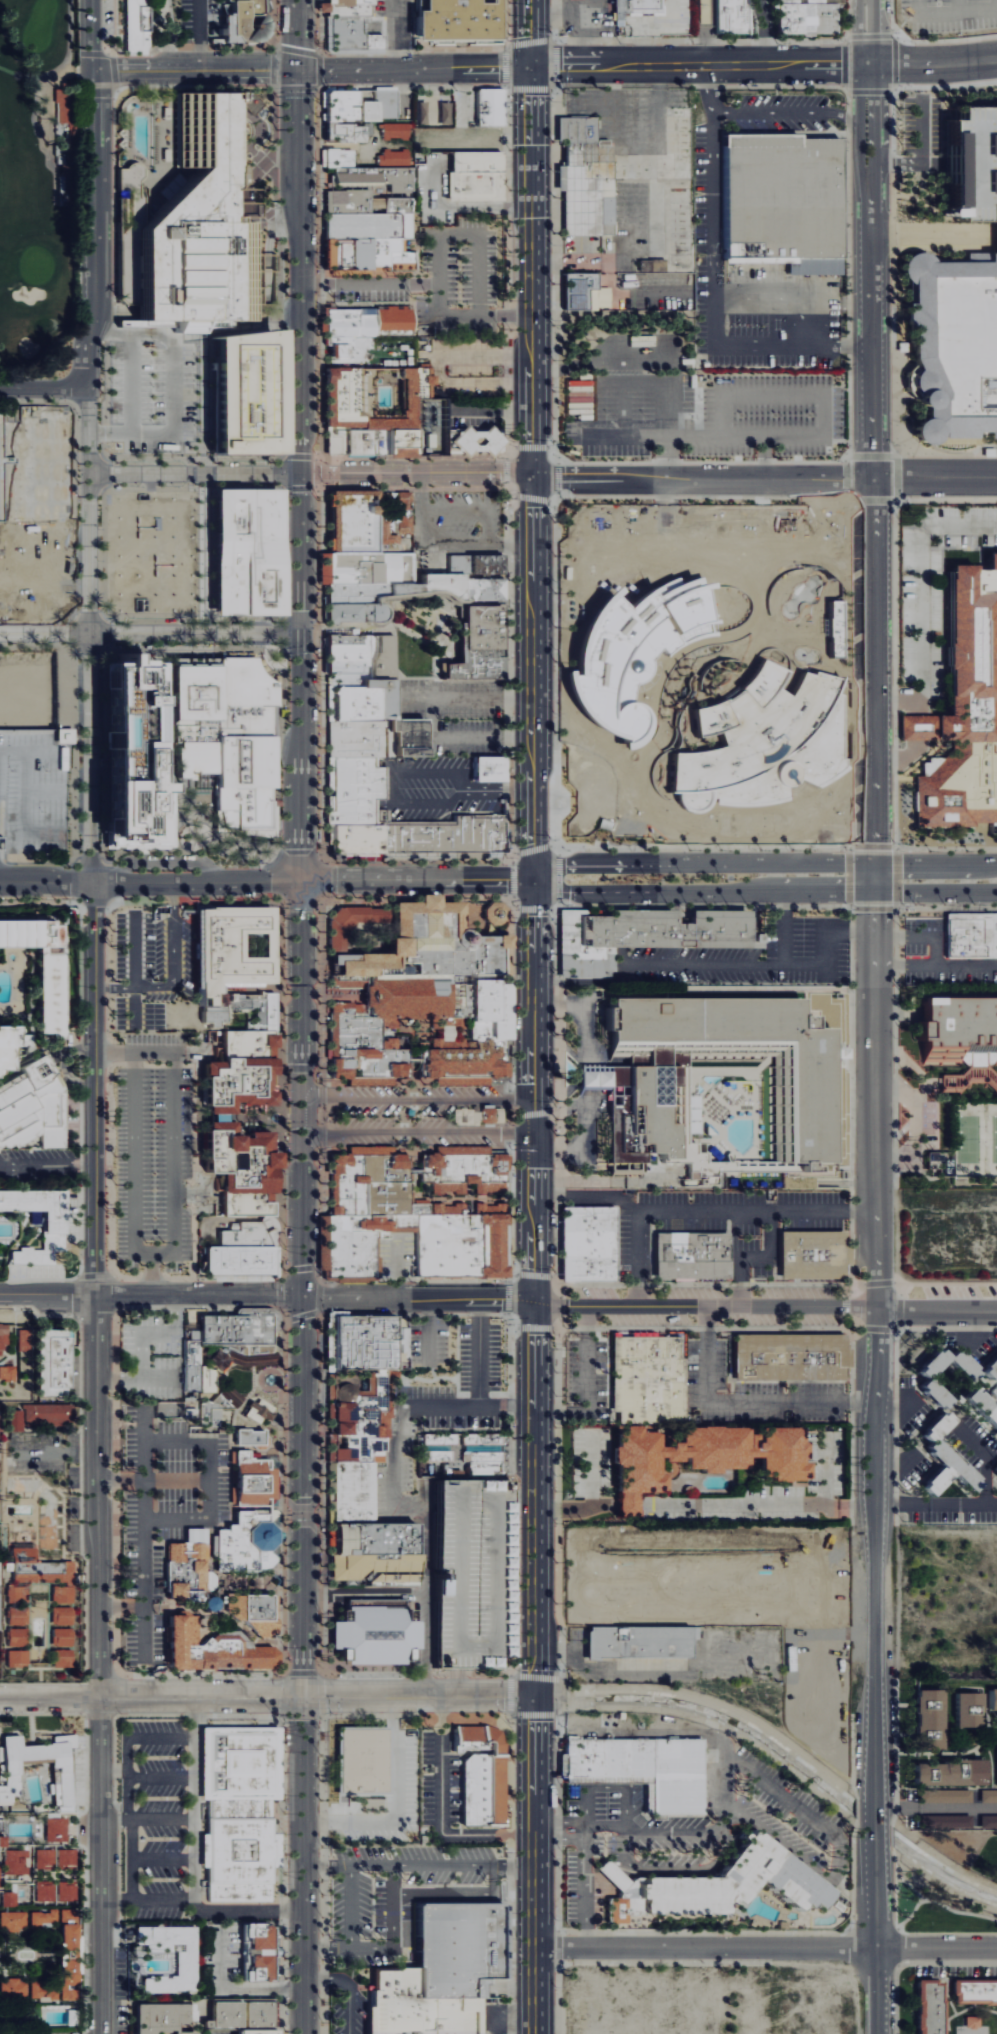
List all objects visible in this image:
road: (996, 5)
road: (959, 7)
building: (638, 8)
building: (347, 9)
road: (953, 15)
road: (551, 16)
parking lot: (948, 16)
building: (731, 18)
building: (804, 18)
building: (454, 20)
parking lot: (202, 21)
building: (243, 21)
building: (135, 26)
road: (526, 32)
road: (576, 32)
road: (700, 32)
road: (763, 32)
road: (868, 32)
road: (398, 34)
road: (199, 35)
building: (350, 38)
road: (932, 63)
traffic signals: (529, 65)
road: (698, 65)
road: (414, 67)
road: (196, 70)
traffic signals: (299, 70)
road: (116, 85)
road: (868, 93)
building: (243, 103)
building: (358, 106)
road: (941, 107)
building: (488, 108)
road: (791, 111)
building: (397, 130)
building: (344, 131)
parking lot: (939, 144)
building: (974, 152)
building: (395, 157)
building: (328, 159)
building: (133, 176)
building: (474, 177)
park: (37, 178)
building: (375, 180)
building: (994, 180)
road: (247, 191)
road: (94, 202)
building: (780, 202)
building: (361, 203)
road: (933, 205)
road: (977, 208)
building: (367, 227)
building: (196, 229)
building: (366, 257)
road: (438, 260)
road: (530, 272)
parking lot: (458, 279)
road: (714, 281)
road: (369, 284)
building: (588, 292)
road: (870, 300)
building: (367, 325)
road: (238, 328)
building: (954, 343)
building: (350, 353)
road: (133, 384)
road: (175, 384)
road: (20, 387)
building: (257, 393)
parking lot: (161, 394)
parking lot: (706, 414)
power substation: (428, 426)
road: (794, 437)
road: (301, 439)
building: (483, 440)
building: (369, 442)
road: (665, 459)
traffic signals: (301, 473)
road: (311, 473)
road: (702, 479)
road: (934, 479)
traffic signals: (532, 480)
road: (470, 508)
building: (351, 522)
building: (380, 523)
road: (445, 540)
building: (253, 552)
building: (846, 553)
building: (364, 567)
road: (921, 588)
building: (399, 595)
road: (46, 637)
road: (197, 637)
traffic signals: (301, 637)
building: (474, 645)
building: (359, 654)
road: (872, 671)
road: (532, 679)
road: (469, 696)
building: (357, 697)
road: (899, 701)
building: (964, 714)
building: (66, 733)
road: (486, 735)
building: (232, 736)
building: (374, 738)
building: (142, 760)
road: (901, 762)
building: (486, 769)
road: (179, 788)
parking lot: (33, 794)
building: (349, 805)
road: (762, 863)
traffic signals: (873, 864)
road: (873, 877)
traffic signals: (532, 878)
road: (416, 879)
traffic signals: (301, 880)
road: (150, 881)
road: (701, 891)
traffic signals: (874, 891)
road: (935, 891)
building: (493, 913)
road: (919, 936)
building: (640, 937)
building: (971, 937)
building: (334, 940)
building: (428, 945)
road: (827, 946)
building: (229, 949)
road: (137, 953)
road: (743, 963)
road: (935, 965)
building: (45, 967)
road: (175, 973)
road: (587, 1009)
building: (211, 1015)
building: (362, 1035)
building: (959, 1039)
building: (11, 1047)
road: (586, 1081)
building: (631, 1081)
road: (417, 1099)
building: (35, 1107)
building: (476, 1116)
building: (219, 1125)
road: (417, 1132)
road: (920, 1132)
park: (974, 1141)
road: (172, 1143)
road: (583, 1145)
parking lot: (39, 1168)
road: (48, 1168)
building: (462, 1171)
road: (97, 1184)
road: (588, 1195)
road: (664, 1210)
road: (751, 1210)
road: (766, 1214)
building: (399, 1221)
building: (52, 1231)
building: (248, 1233)
building: (587, 1243)
building: (812, 1254)
building: (691, 1255)
building: (240, 1260)
road: (395, 1265)
road: (151, 1296)
traffic signals: (302, 1296)
road: (900, 1306)
road: (649, 1307)
road: (429, 1329)
road: (948, 1329)
building: (233, 1330)
building: (4, 1336)
building: (25, 1340)
building: (357, 1342)
building: (240, 1355)
building: (788, 1356)
building: (54, 1362)
building: (190, 1364)
building: (990, 1367)
building: (8, 1370)
fountain: (269, 1378)
building: (205, 1379)
building: (924, 1379)
road: (478, 1380)
building: (645, 1380)
road: (746, 1402)
building: (216, 1405)
building: (981, 1408)
building: (257, 1410)
building: (188, 1412)
building: (44, 1415)
building: (357, 1415)
building: (1, 1424)
building: (250, 1438)
building: (460, 1452)
building: (704, 1454)
road: (534, 1455)
road: (302, 1457)
building: (942, 1459)
road: (211, 1462)
road: (876, 1462)
building: (0, 1471)
building: (994, 1471)
road: (176, 1477)
building: (250, 1479)
building: (348, 1491)
road: (902, 1503)
road: (962, 1503)
road: (632, 1505)
road: (760, 1505)
road: (577, 1506)
road: (416, 1508)
road: (143, 1520)
building: (369, 1538)
building: (246, 1542)
building: (41, 1567)
building: (372, 1569)
building: (188, 1570)
building: (471, 1573)
parking garage: (471, 1573)
building: (0, 1588)
building: (64, 1594)
building: (19, 1604)
road: (143, 1611)
building: (253, 1612)
building: (63, 1615)
building: (373, 1632)
building: (18, 1636)
building: (63, 1636)
building: (643, 1641)
building: (209, 1648)
building: (19, 1657)
building: (64, 1658)
road: (458, 1682)
road: (559, 1684)
traffic signals: (537, 1694)
road: (268, 1697)
traffic signals: (303, 1697)
building: (991, 1700)
road: (508, 1708)
building: (966, 1709)
road: (532, 1719)
building: (927, 1719)
road: (144, 1736)
building: (996, 1753)
building: (360, 1761)
building: (641, 1769)
building: (480, 1772)
building: (947, 1772)
building: (60, 1775)
road: (163, 1777)
road: (723, 1782)
building: (943, 1795)
building: (987, 1795)
road: (196, 1803)
road: (935, 1808)
building: (238, 1811)
road: (439, 1812)
road: (130, 1813)
building: (942, 1821)
building: (987, 1821)
road: (619, 1826)
building: (58, 1829)
road: (581, 1829)
road: (132, 1843)
road: (723, 1843)
building: (46, 1857)
building: (68, 1858)
road: (165, 1858)
building: (17, 1861)
road: (419, 1861)
building: (0, 1876)
park: (946, 1881)
building: (713, 1886)
road: (590, 1888)
building: (46, 1890)
building: (68, 1891)
road: (459, 1892)
building: (11, 1898)
road: (117, 1899)
road: (158, 1899)
road: (348, 1904)
road: (241, 1909)
building: (44, 1918)
building: (14, 1921)
road: (390, 1946)
road: (766, 1948)
building: (255, 1951)
building: (72, 1954)
building: (184, 1965)
building: (439, 1972)
building: (14, 1987)
road: (348, 1987)
road: (235, 1988)
building: (45, 1989)
building: (973, 1992)
building: (927, 2006)
building: (232, 2015)
road: (507, 2016)
building: (165, 2018)
building: (975, 2022)
building: (251, 2031)

